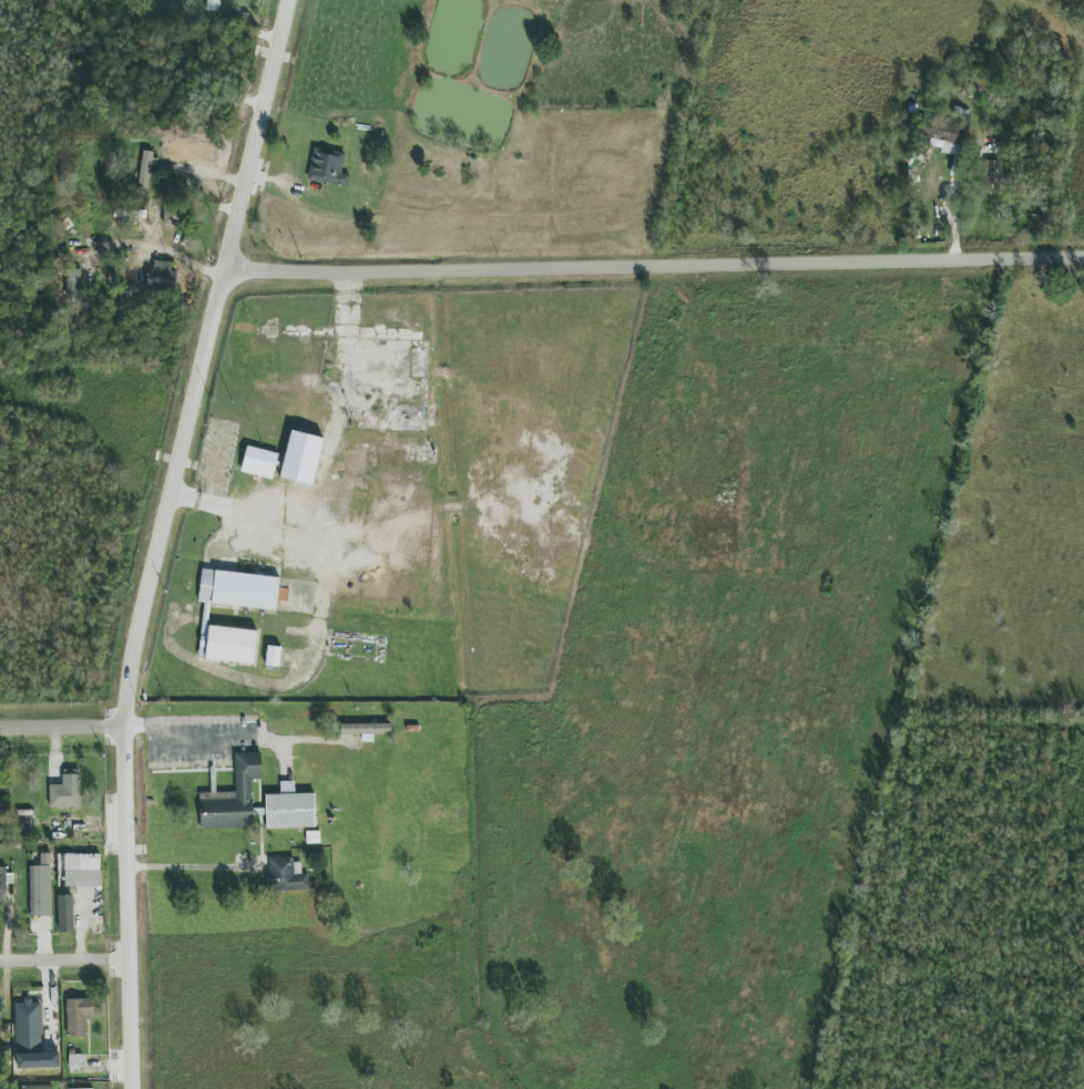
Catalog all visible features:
building: (213, 4)
building: (945, 136)
road: (259, 138)
building: (191, 152)
building: (327, 167)
building: (145, 169)
building: (992, 177)
building: (129, 216)
road: (161, 250)
road: (655, 269)
building: (162, 276)
building: (72, 285)
building: (259, 462)
road: (255, 515)
road: (334, 568)
building: (205, 618)
building: (273, 657)
road: (132, 677)
road: (63, 726)
building: (366, 729)
road: (225, 736)
building: (65, 791)
building: (233, 797)
building: (289, 808)
building: (1, 824)
road: (192, 867)
building: (81, 870)
building: (286, 875)
building: (4, 884)
building: (39, 891)
building: (64, 913)
road: (67, 959)
building: (0, 1010)
building: (78, 1016)
building: (31, 1039)
building: (75, 1061)
building: (37, 1087)
building: (7, 1088)
building: (91, 1088)

